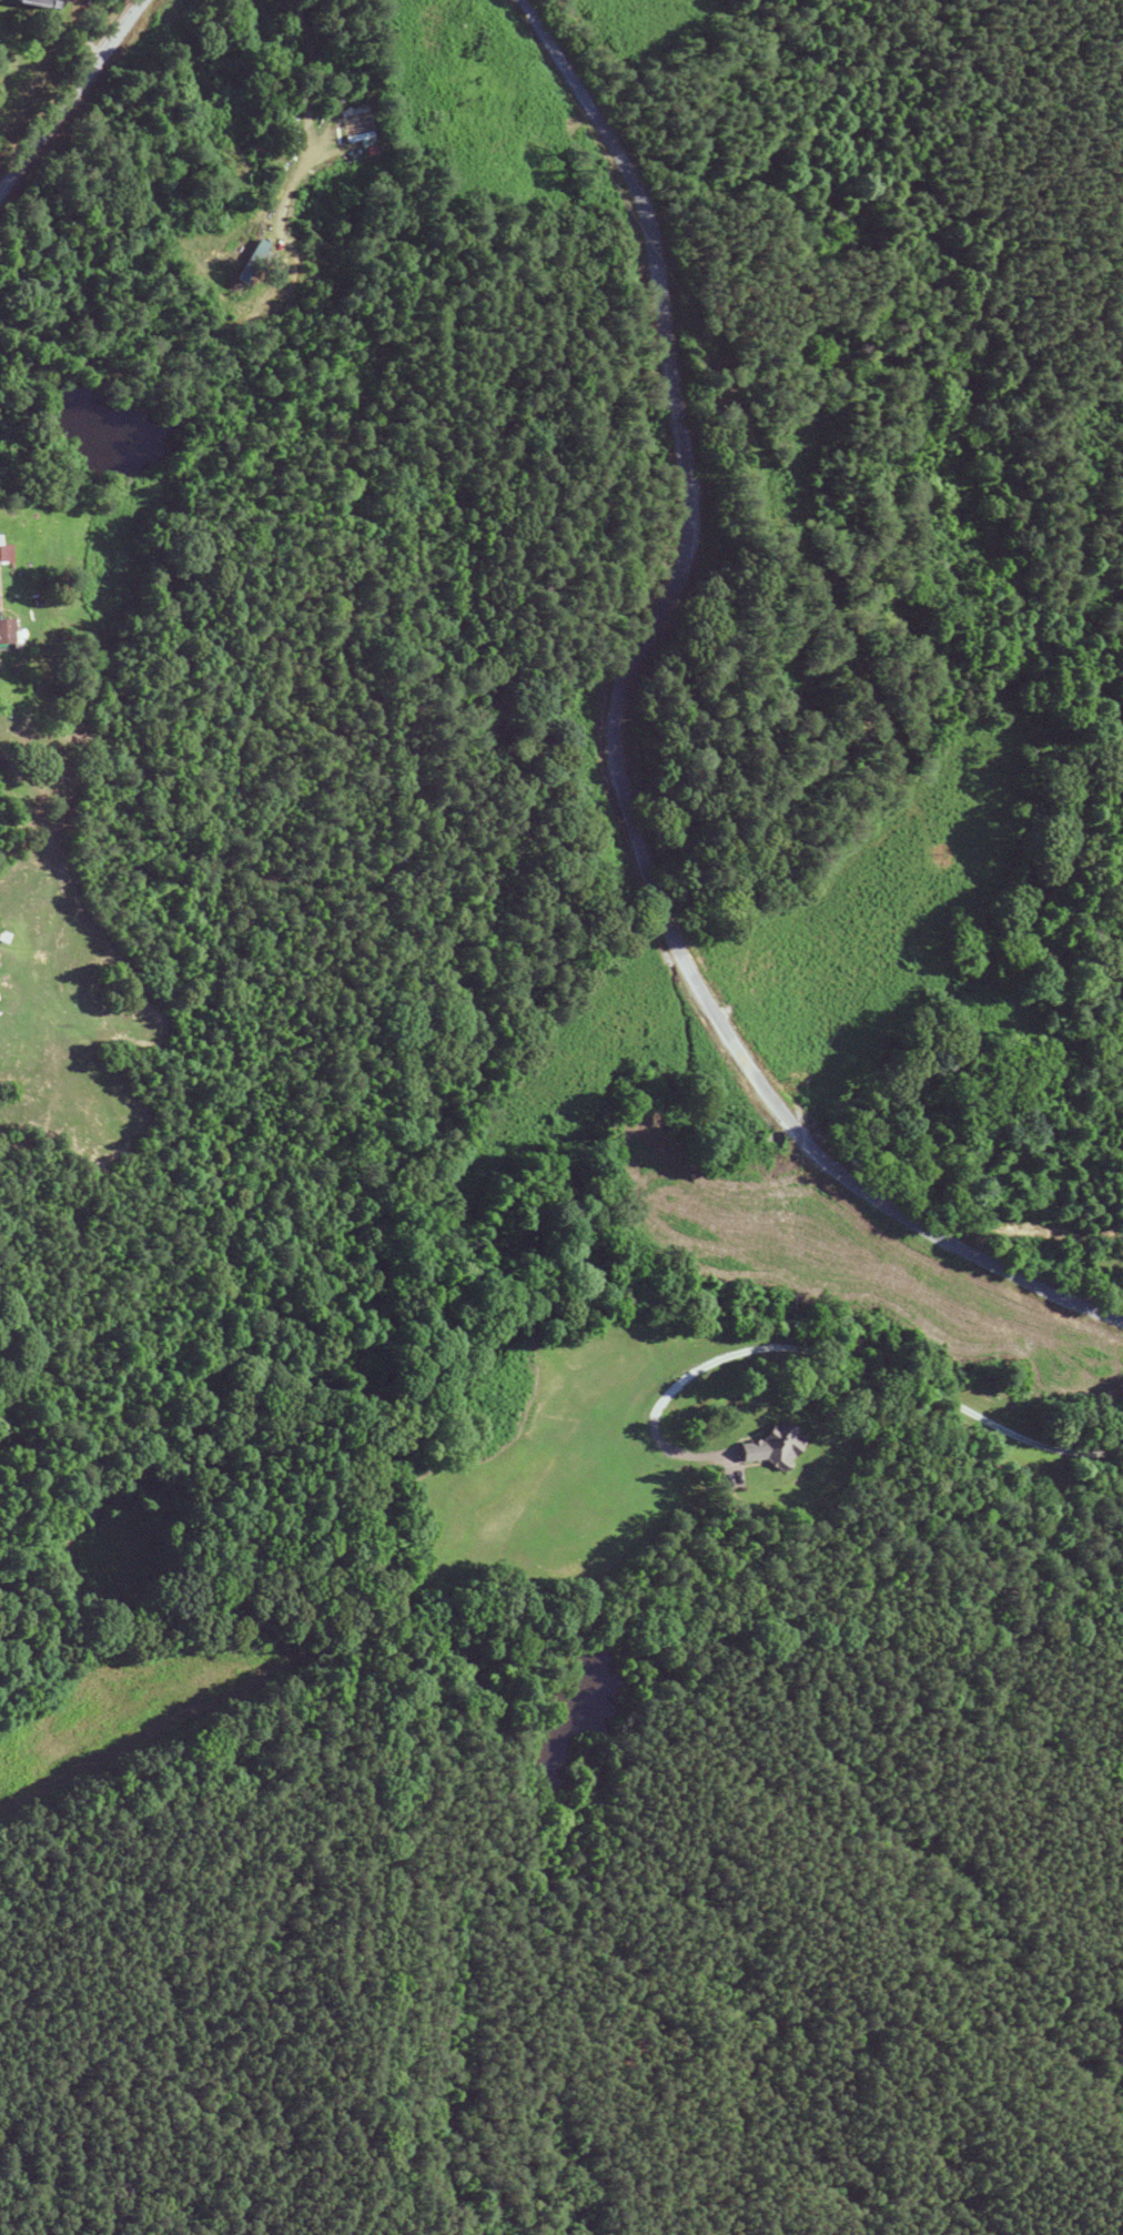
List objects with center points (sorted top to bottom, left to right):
building: (26, 3)
road: (63, 105)
road: (334, 112)
building: (347, 112)
building: (239, 272)
building: (3, 554)
road: (2, 588)
building: (1, 631)
road: (618, 756)
road: (1071, 1202)
road: (840, 1357)

